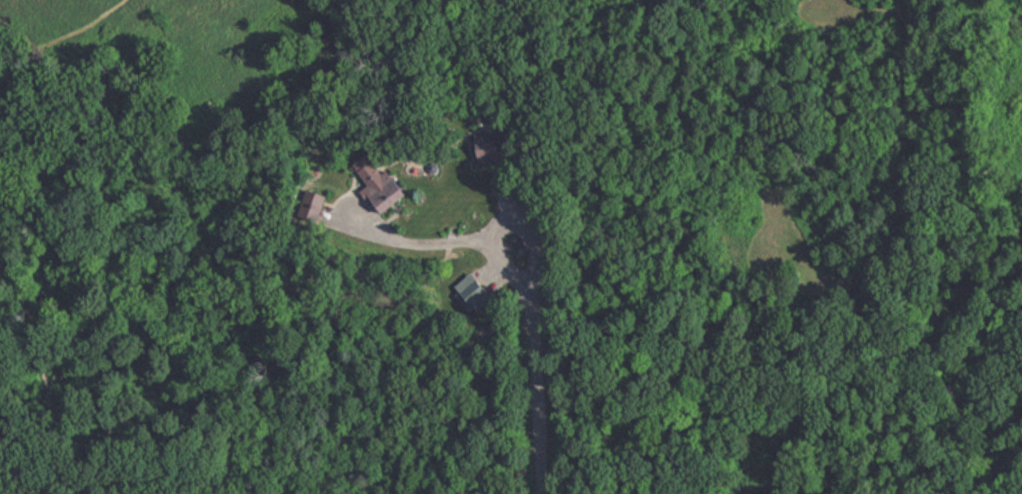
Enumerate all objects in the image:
building: (489, 146)
building: (386, 188)
road: (503, 223)
road: (382, 225)
building: (475, 290)
road: (536, 387)

